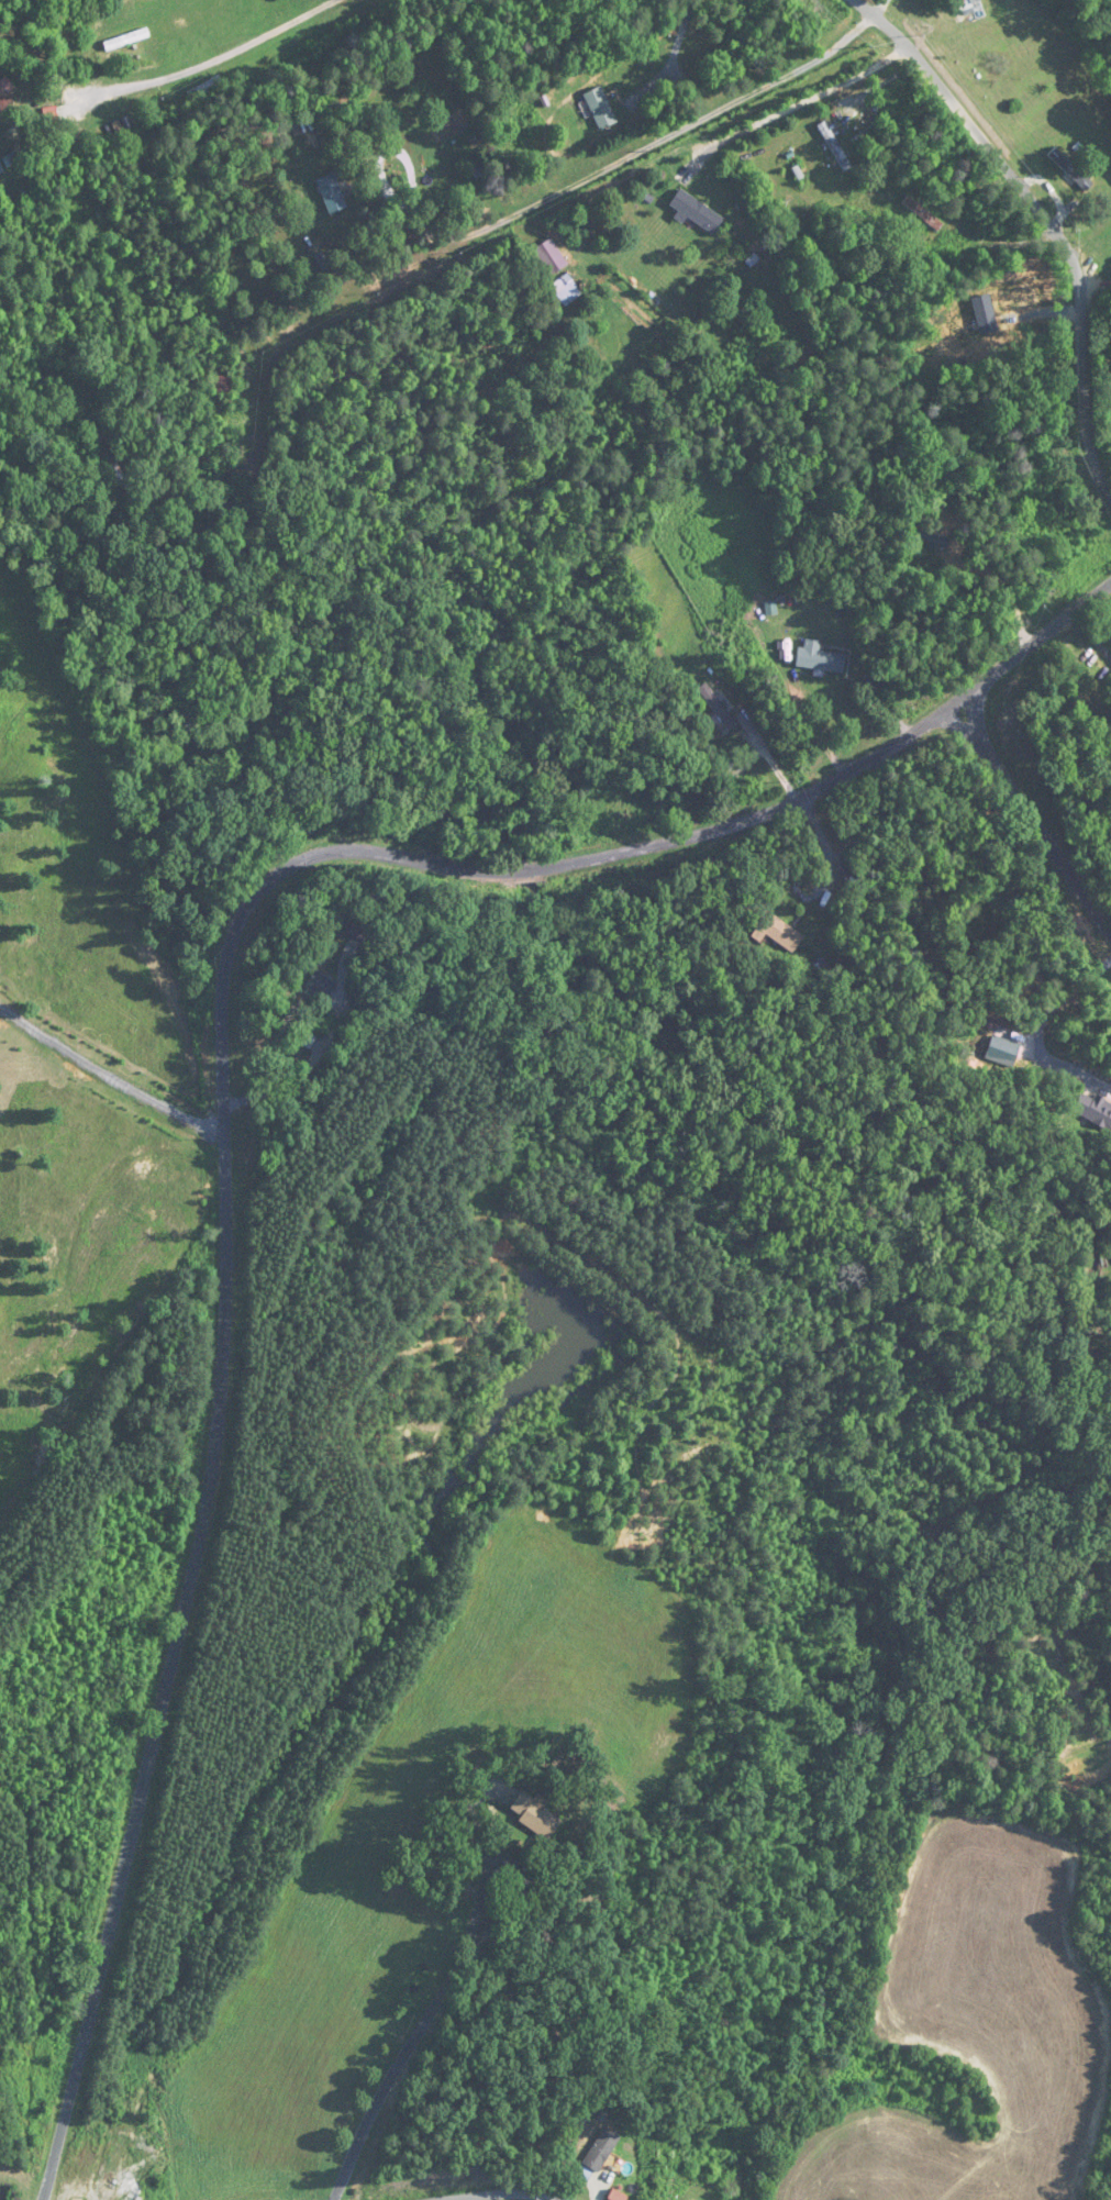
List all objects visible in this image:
building: (967, 5)
building: (130, 40)
road: (673, 54)
road: (211, 60)
building: (100, 82)
building: (4, 98)
road: (812, 98)
building: (600, 108)
building: (108, 114)
building: (832, 143)
building: (1074, 171)
road: (576, 184)
building: (331, 192)
building: (697, 211)
building: (922, 213)
road: (1045, 215)
building: (564, 286)
building: (220, 382)
building: (221, 512)
building: (930, 537)
building: (819, 658)
building: (716, 707)
road: (1033, 811)
road: (1020, 897)
road: (1054, 920)
building: (360, 925)
building: (777, 932)
road: (1091, 947)
road: (1102, 975)
building: (320, 986)
road: (109, 1074)
road: (223, 1079)
building: (1093, 1109)
road: (937, 1159)
road: (645, 1177)
building: (534, 1814)
road: (518, 1867)
road: (393, 2074)
road: (575, 2119)
building: (601, 2149)
road: (495, 2189)

